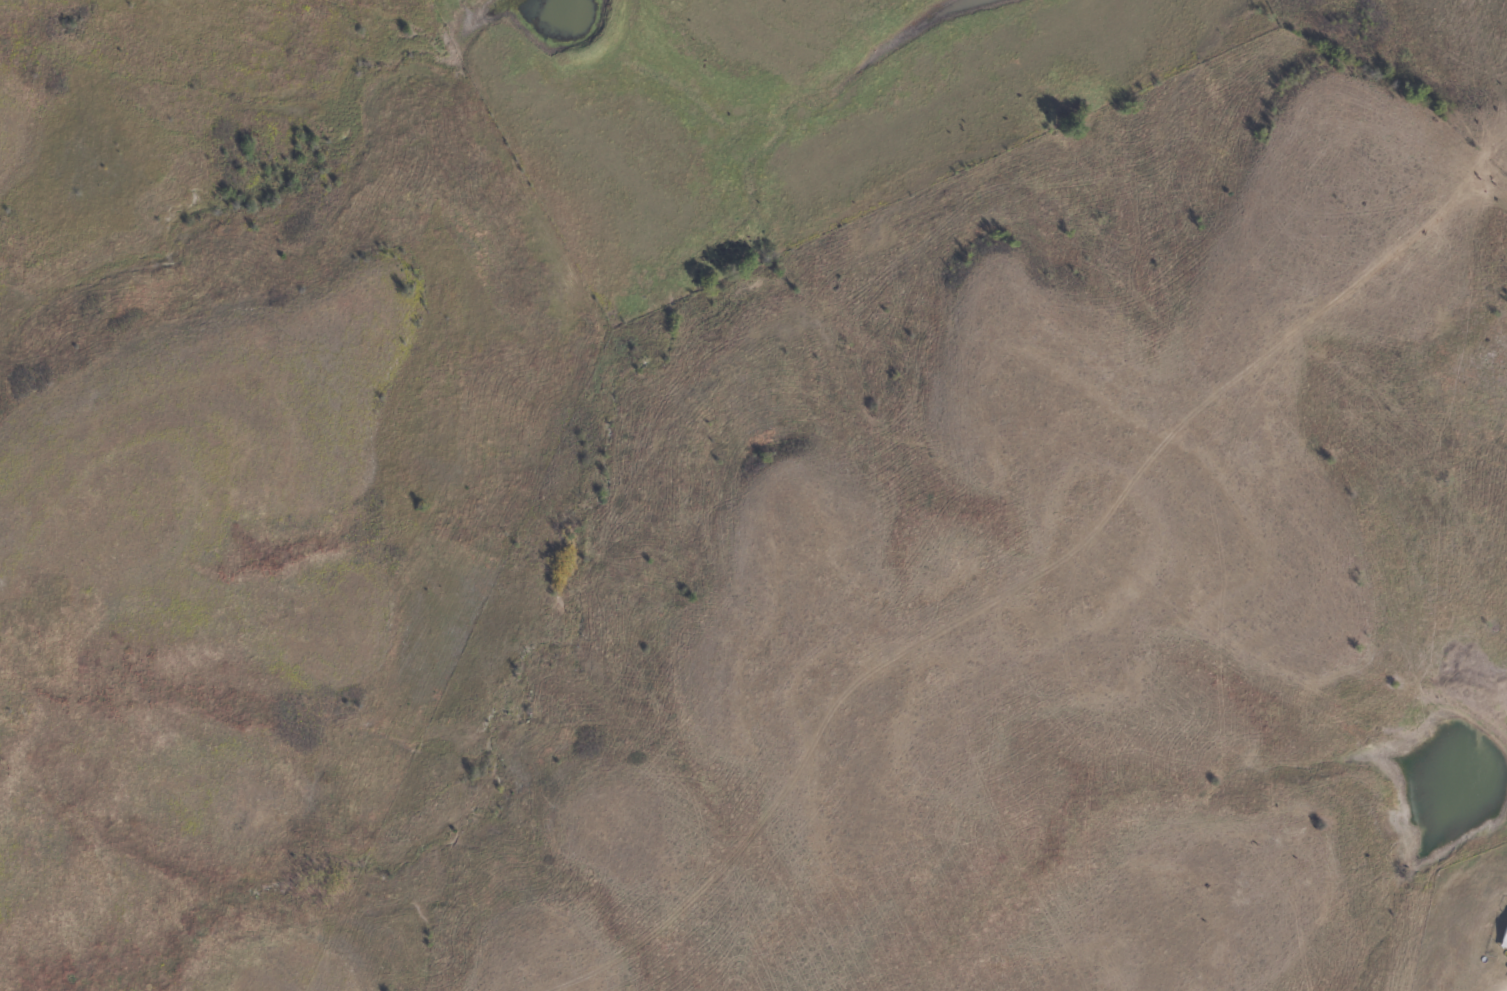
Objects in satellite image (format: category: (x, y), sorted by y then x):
building: (1505, 940)

